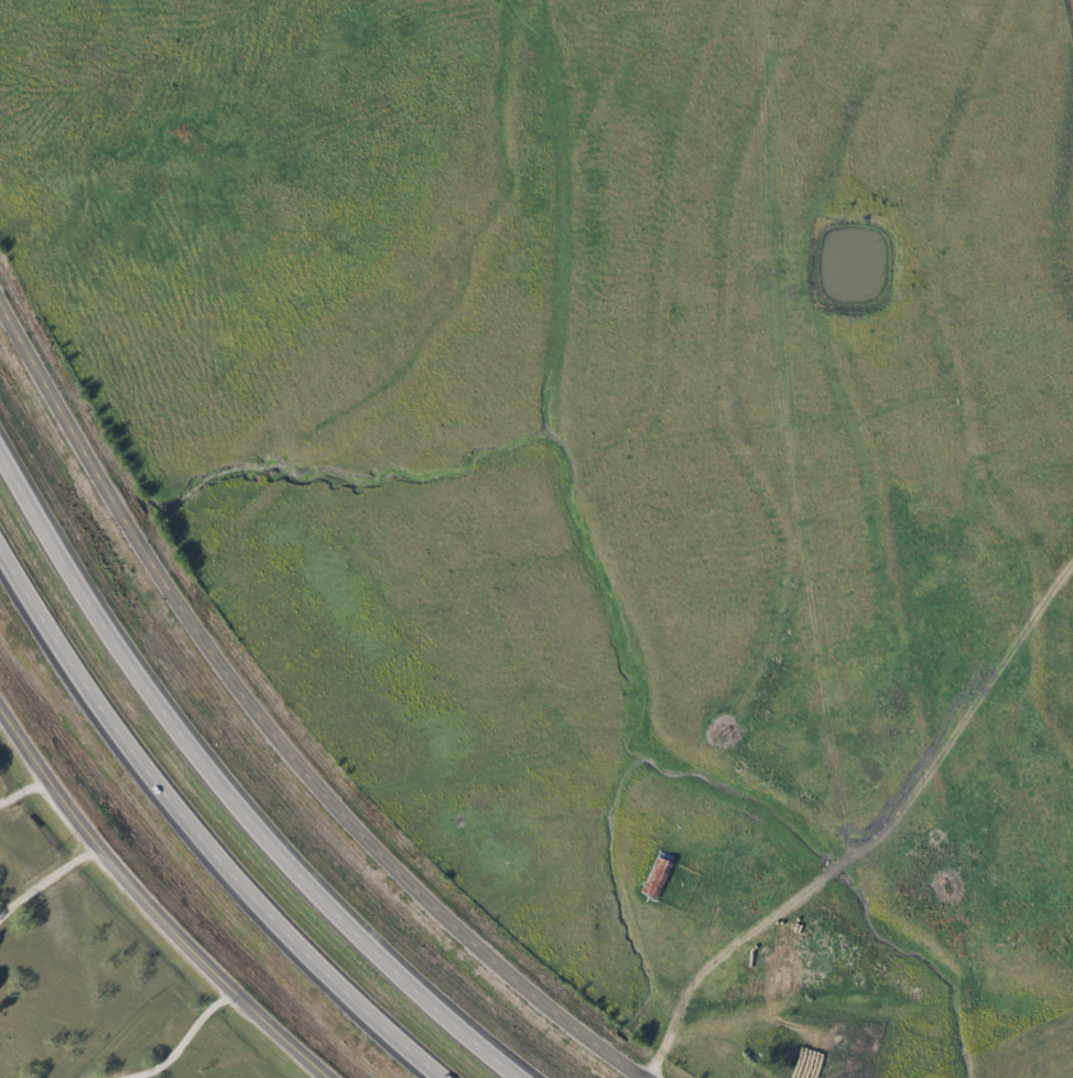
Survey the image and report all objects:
road: (271, 726)
road: (229, 787)
road: (25, 793)
road: (199, 830)
building: (654, 877)
road: (50, 878)
road: (155, 902)
road: (684, 998)
road: (186, 1037)
road: (329, 1076)

